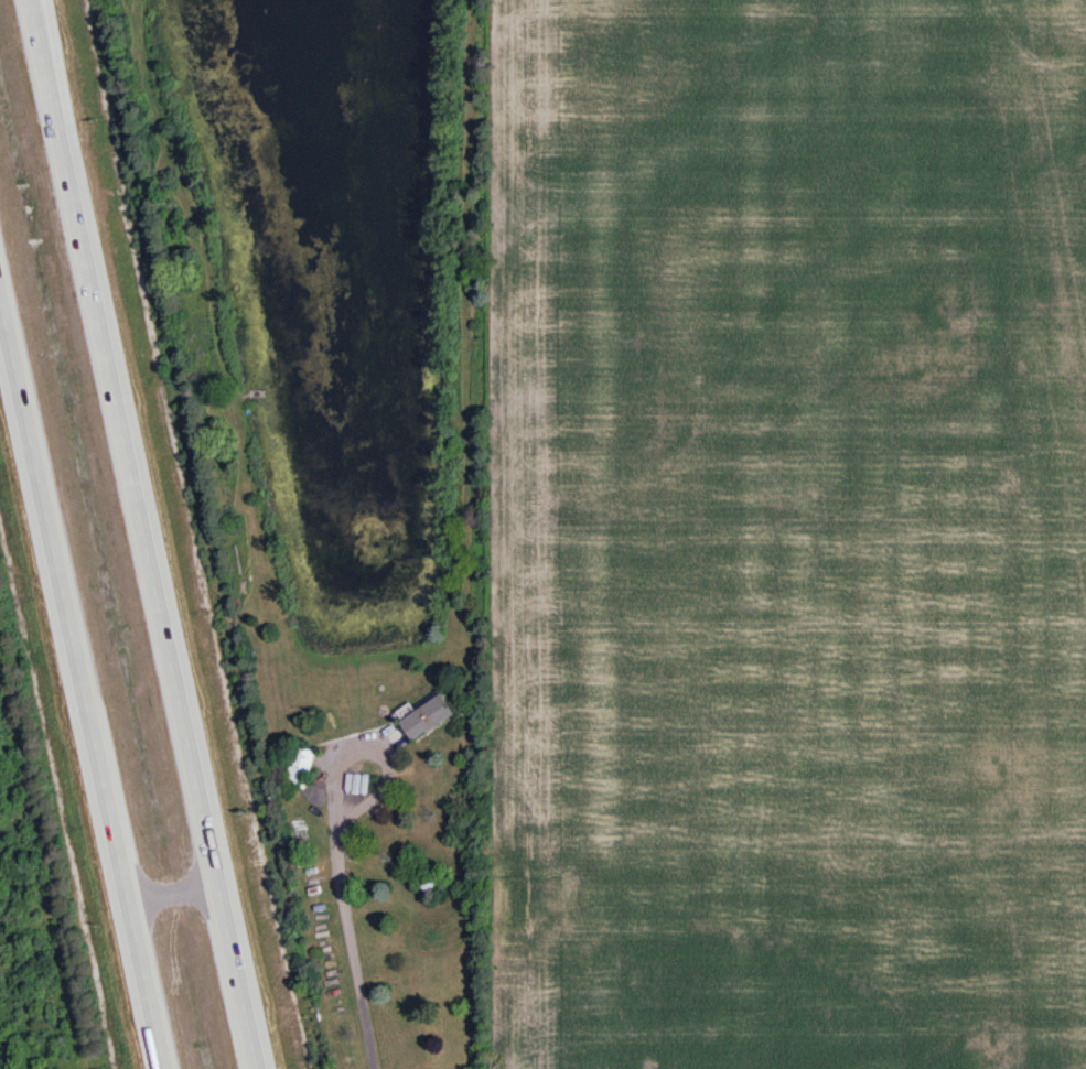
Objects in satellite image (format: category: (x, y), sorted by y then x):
road: (144, 534)
road: (83, 685)
building: (431, 715)
building: (301, 768)
road: (173, 892)
road: (407, 994)

